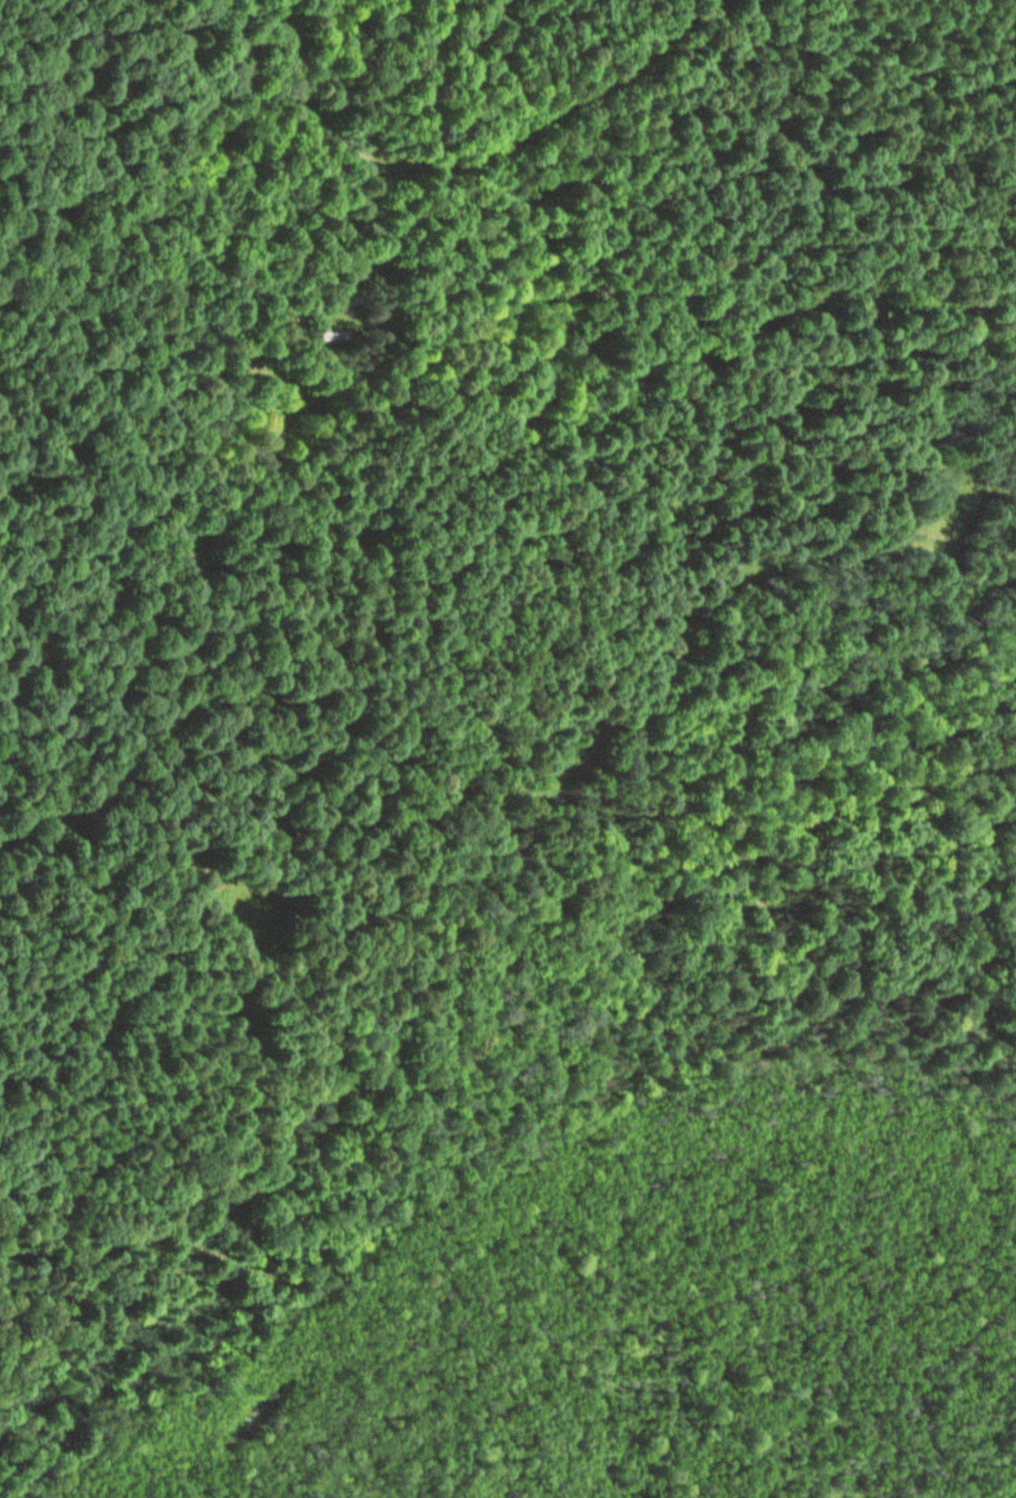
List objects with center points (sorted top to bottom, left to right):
building: (332, 334)
road: (512, 608)
road: (979, 795)

